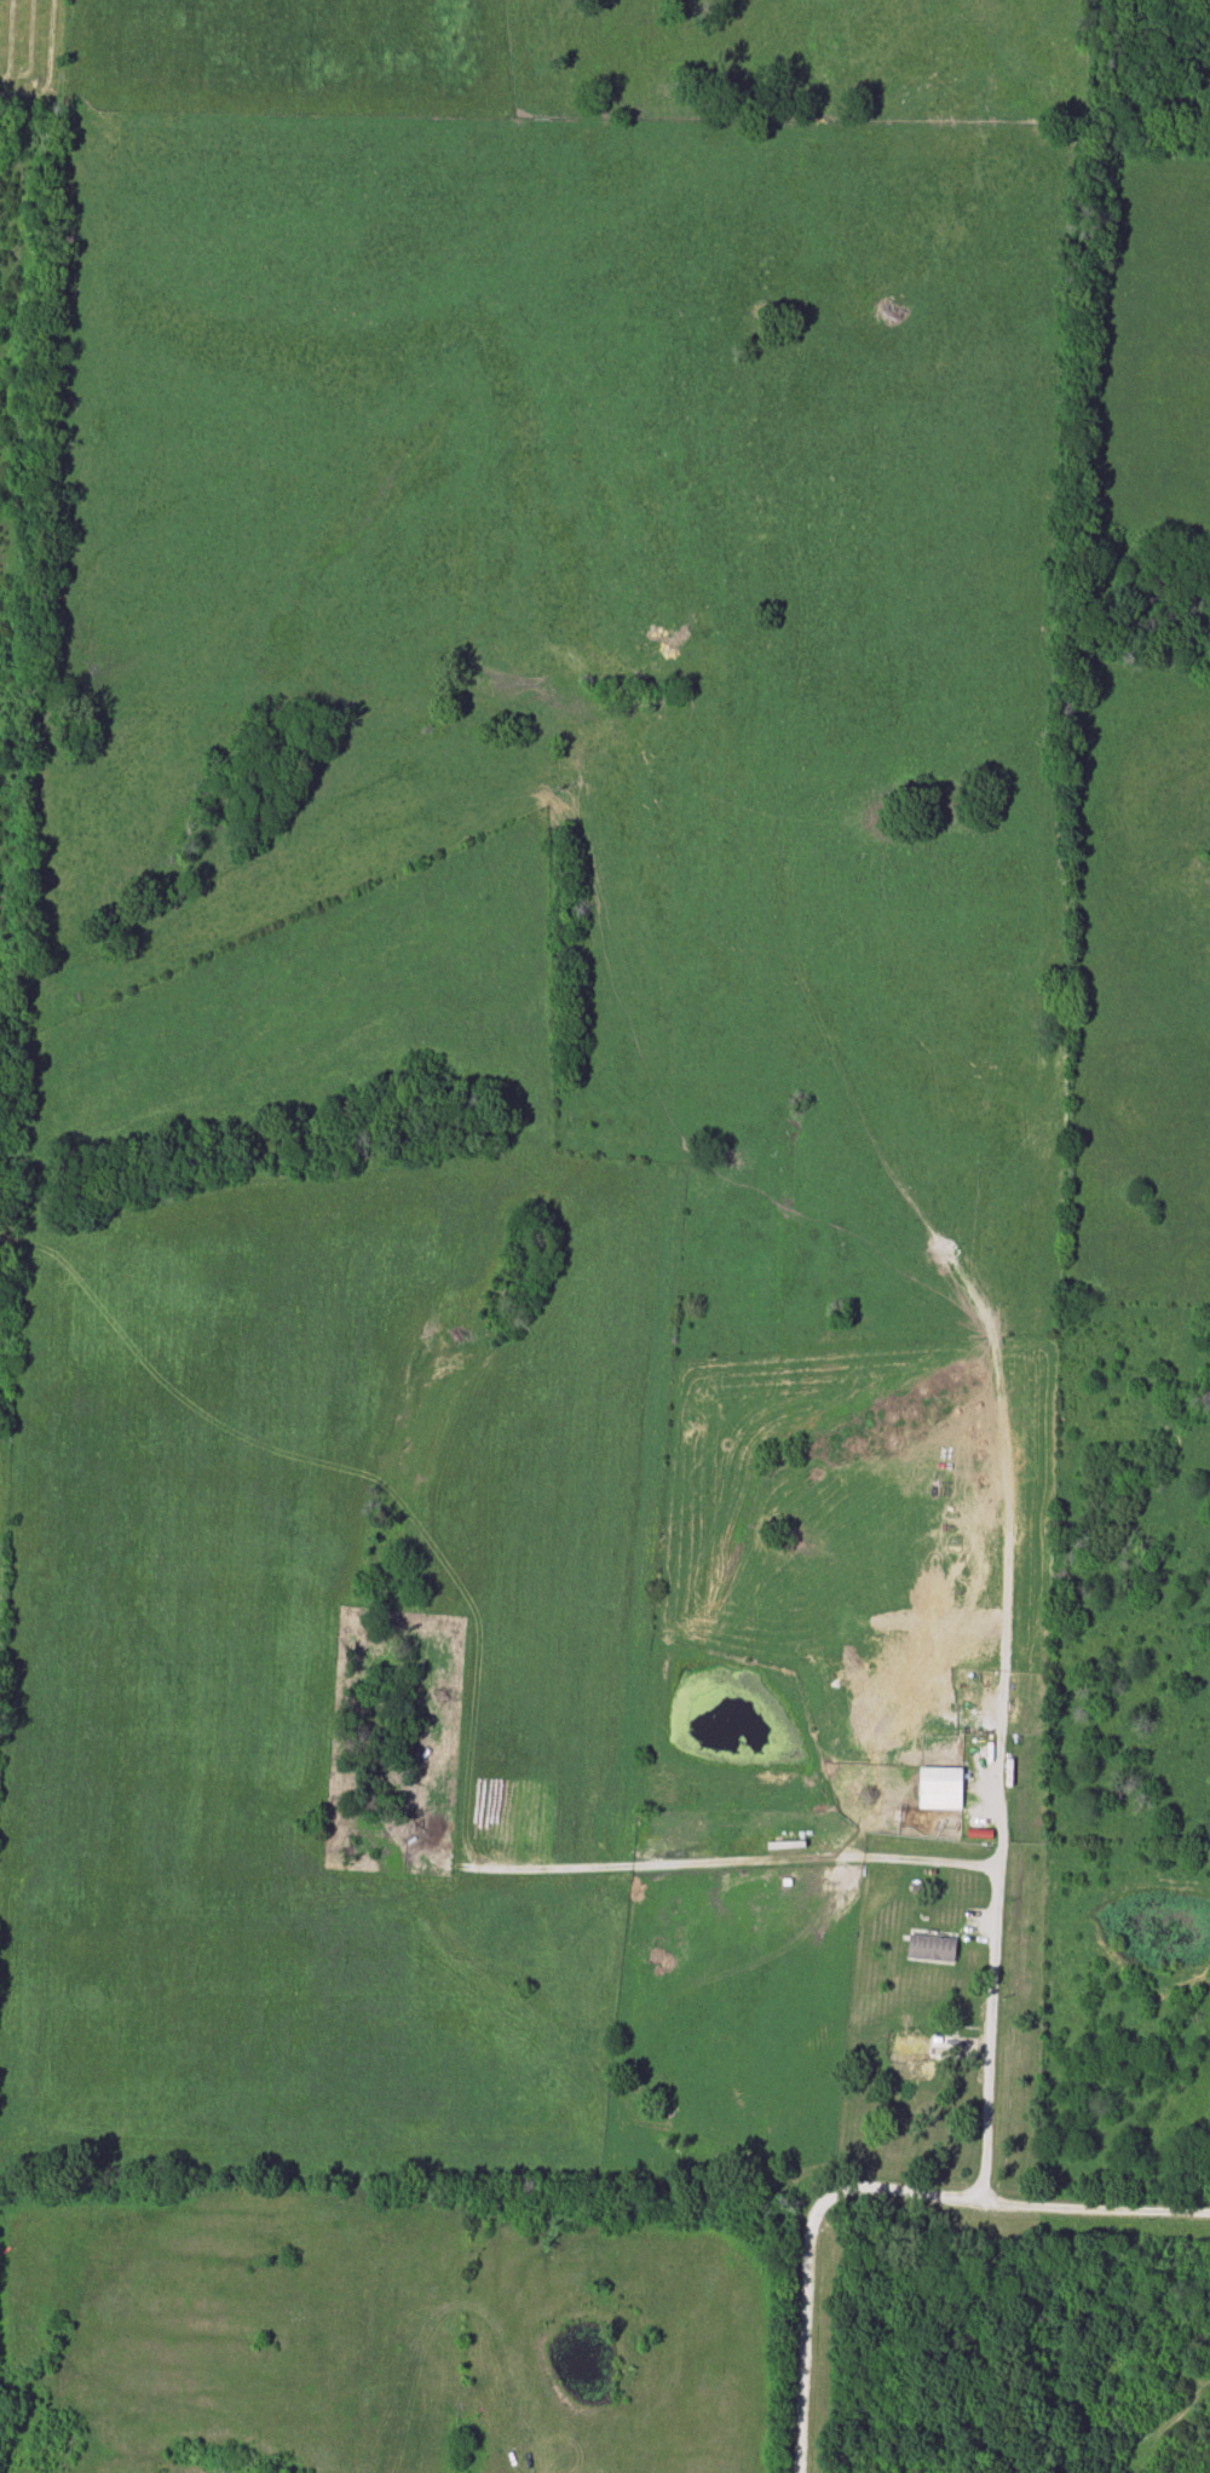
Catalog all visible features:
building: (947, 1712)
building: (940, 1789)
building: (930, 1950)
road: (990, 1992)
building: (920, 2047)
road: (917, 2192)
road: (1108, 2209)
road: (805, 2331)

